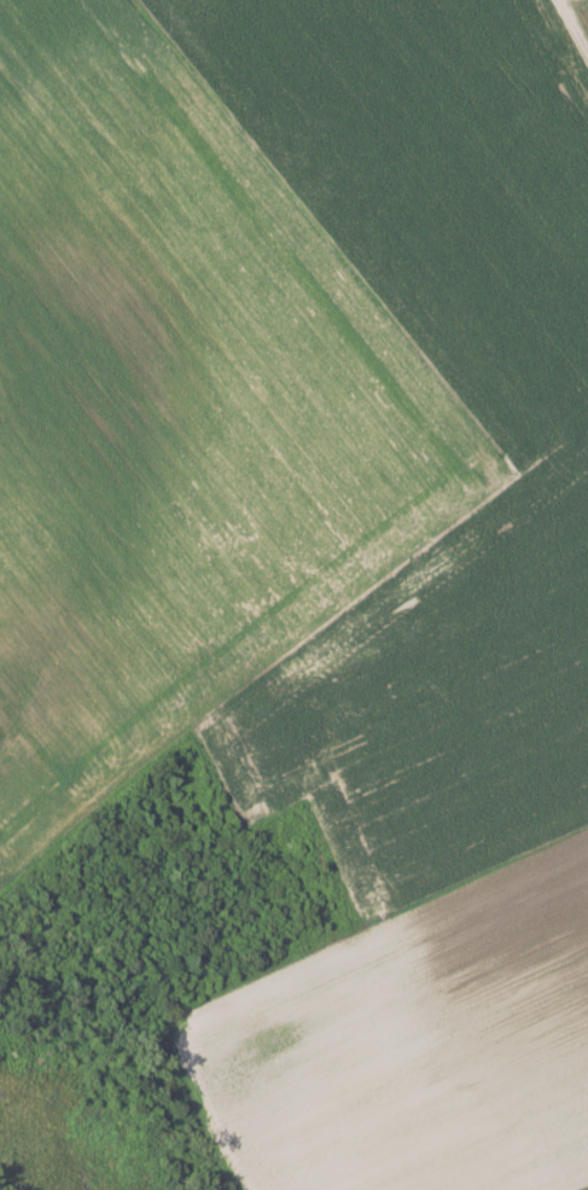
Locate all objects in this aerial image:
road: (567, 1)
road: (576, 22)

